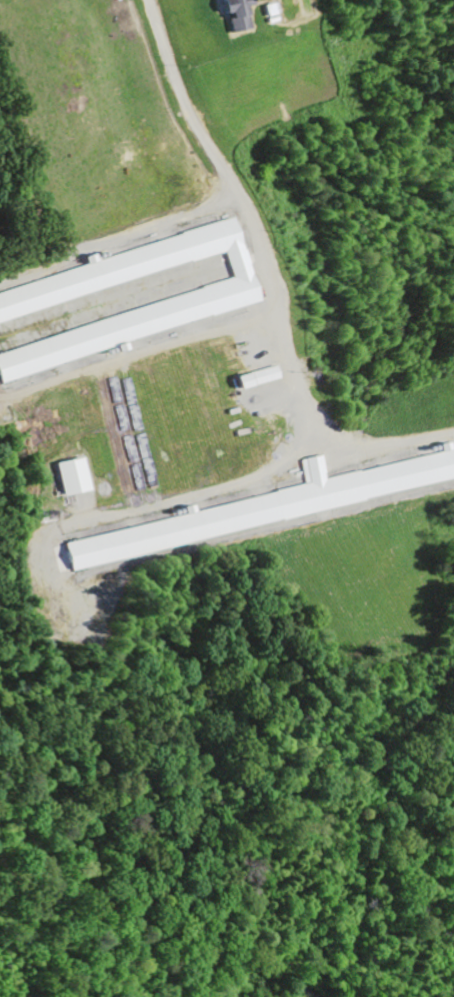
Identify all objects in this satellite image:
road: (244, 223)
building: (36, 298)
building: (251, 379)
building: (69, 478)
building: (269, 507)

